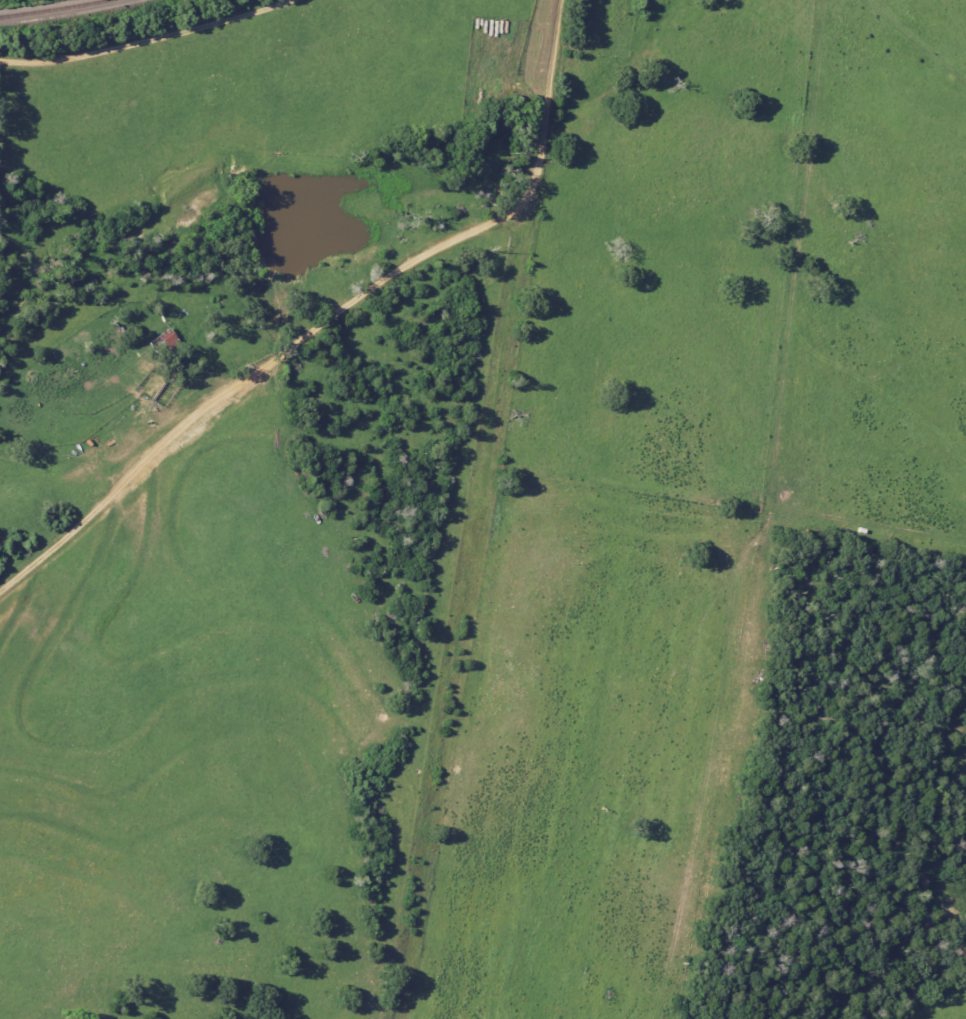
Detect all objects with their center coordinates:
railway: (55, 10)
road: (146, 40)
road: (548, 92)
road: (258, 371)
road: (471, 602)

